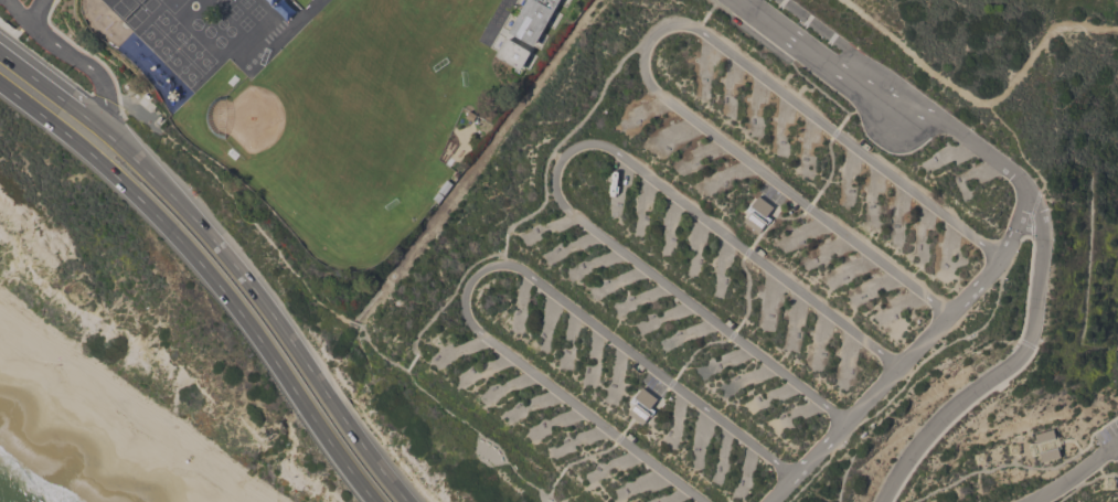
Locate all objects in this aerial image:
road: (35, 8)
road: (17, 9)
building: (533, 19)
road: (653, 35)
road: (834, 40)
building: (513, 53)
road: (74, 54)
toll booth: (828, 73)
road: (53, 89)
road: (880, 89)
road: (981, 103)
road: (105, 116)
road: (564, 154)
building: (758, 214)
road: (498, 265)
road: (209, 273)
road: (267, 307)
road: (911, 356)
road: (1018, 360)
building: (642, 406)
building: (1044, 436)
road: (1111, 448)
building: (1048, 455)
road: (1069, 480)

